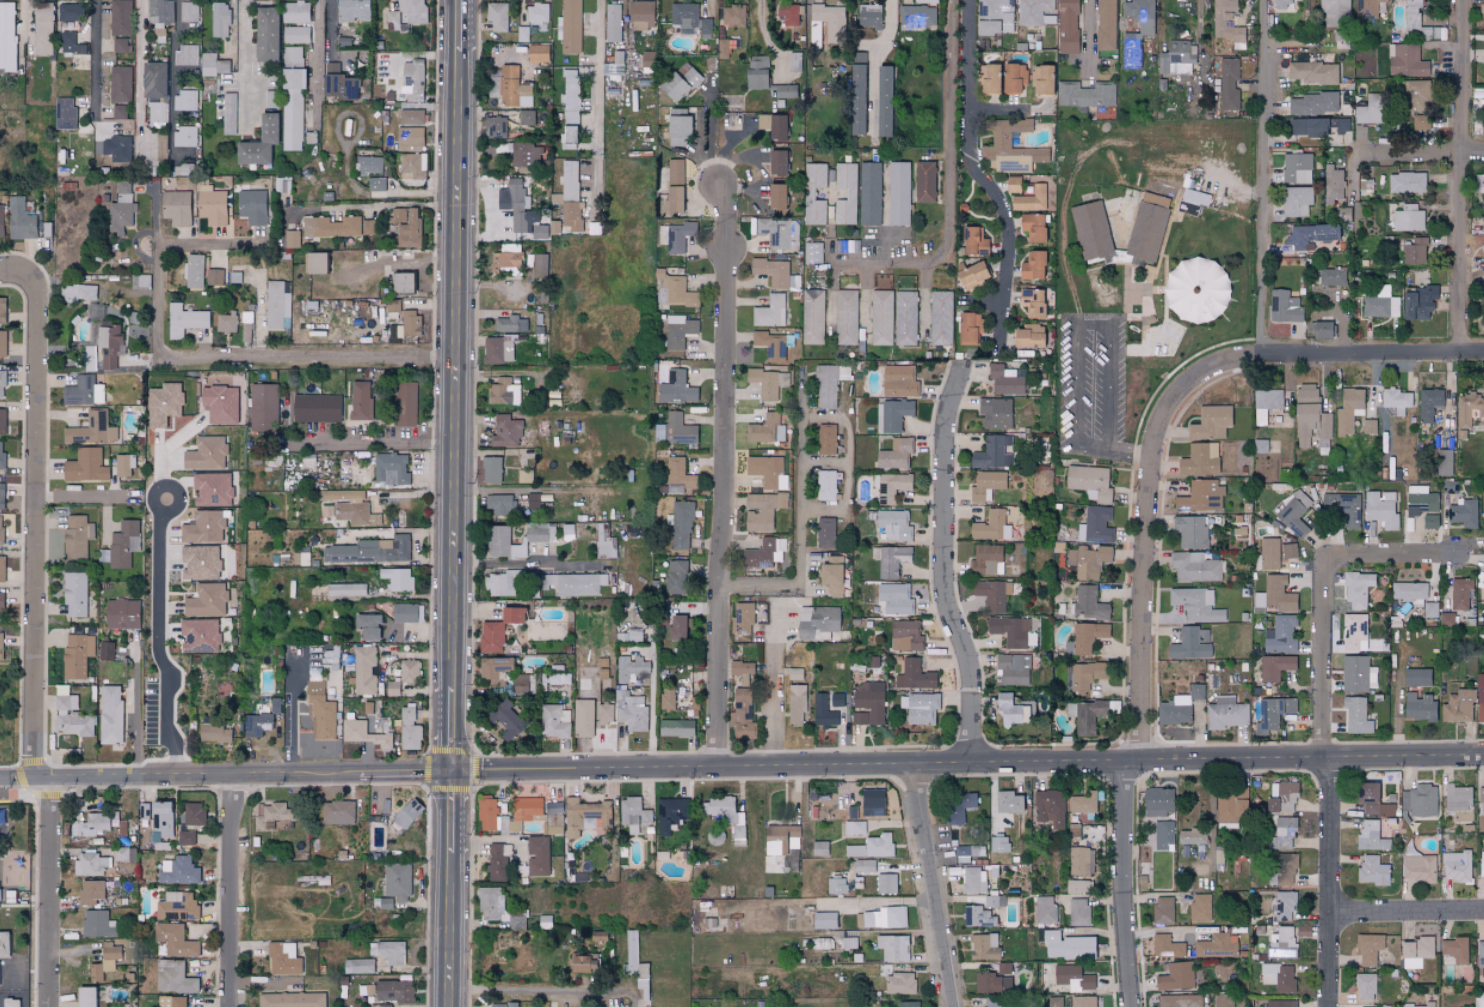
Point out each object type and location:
building: (828, 3)
building: (1279, 4)
building: (1369, 9)
building: (1481, 9)
building: (352, 10)
building: (160, 11)
building: (1033, 11)
building: (1334, 11)
building: (68, 12)
building: (189, 12)
building: (294, 12)
building: (42, 13)
building: (537, 13)
building: (918, 13)
building: (789, 14)
building: (407, 15)
building: (641, 15)
building: (496, 16)
building: (733, 16)
building: (869, 16)
building: (1411, 16)
building: (120, 17)
building: (995, 17)
building: (690, 18)
building: (219, 20)
building: (831, 22)
building: (612, 23)
building: (1219, 23)
building: (1105, 25)
road: (463, 26)
building: (570, 26)
building: (1067, 27)
road: (329, 28)
road: (764, 31)
building: (1430, 33)
building: (264, 35)
building: (295, 35)
building: (7, 36)
building: (1137, 36)
road: (1088, 38)
building: (71, 44)
building: (120, 45)
building: (726, 45)
building: (537, 53)
building: (186, 55)
building: (1176, 55)
building: (292, 57)
road: (873, 59)
building: (1406, 61)
road: (97, 62)
building: (795, 62)
road: (243, 63)
road: (315, 64)
building: (213, 65)
building: (332, 67)
building: (756, 73)
building: (1313, 73)
road: (141, 76)
road: (172, 78)
building: (1013, 78)
building: (413, 79)
building: (988, 79)
building: (152, 80)
building: (1041, 80)
building: (679, 82)
building: (120, 84)
building: (1229, 84)
building: (340, 87)
building: (509, 87)
road: (594, 93)
building: (856, 94)
building: (1085, 95)
building: (571, 96)
building: (1414, 96)
building: (186, 100)
building: (882, 101)
building: (1314, 104)
building: (291, 108)
road: (998, 109)
building: (1369, 110)
building: (119, 112)
building: (157, 113)
building: (64, 114)
building: (228, 114)
building: (411, 117)
building: (526, 117)
building: (1420, 123)
building: (677, 126)
building: (765, 126)
building: (495, 127)
building: (1317, 127)
building: (185, 136)
building: (568, 137)
building: (409, 139)
building: (1000, 139)
road: (711, 141)
building: (258, 143)
road: (1015, 147)
building: (116, 148)
road: (1421, 153)
building: (523, 154)
building: (776, 163)
building: (369, 165)
building: (412, 166)
building: (1297, 168)
road: (1464, 174)
road: (1264, 177)
building: (569, 180)
road: (984, 180)
building: (924, 182)
building: (1406, 183)
building: (1479, 183)
building: (376, 184)
building: (1013, 184)
building: (1333, 184)
building: (674, 186)
road: (950, 189)
building: (808, 194)
building: (845, 194)
building: (869, 194)
building: (898, 194)
building: (775, 197)
building: (1030, 200)
building: (1296, 201)
building: (1191, 202)
building: (212, 206)
road: (375, 206)
building: (252, 207)
building: (176, 208)
building: (520, 210)
building: (118, 211)
road: (155, 212)
building: (572, 216)
building: (1408, 218)
building: (21, 220)
building: (2, 221)
building: (330, 227)
building: (369, 227)
building: (554, 227)
building: (1032, 227)
building: (1147, 227)
building: (407, 228)
building: (775, 231)
building: (1090, 231)
building: (679, 236)
building: (1309, 236)
building: (291, 239)
building: (973, 242)
road: (208, 245)
building: (848, 246)
building: (1413, 250)
building: (1483, 252)
building: (813, 253)
building: (507, 256)
building: (314, 263)
road: (408, 265)
building: (539, 266)
building: (1032, 266)
building: (194, 271)
building: (772, 272)
road: (13, 275)
building: (973, 275)
building: (1333, 276)
building: (215, 277)
building: (144, 281)
building: (401, 283)
building: (676, 290)
building: (1195, 291)
building: (78, 292)
building: (1417, 302)
building: (1032, 303)
building: (1381, 303)
building: (277, 306)
building: (392, 306)
building: (1284, 307)
building: (94, 309)
building: (2, 310)
building: (770, 311)
building: (812, 317)
building: (845, 317)
building: (881, 317)
building: (905, 318)
building: (941, 318)
building: (185, 321)
building: (226, 322)
building: (410, 323)
building: (506, 323)
road: (1075, 326)
building: (969, 328)
building: (1321, 330)
building: (679, 331)
building: (1028, 336)
building: (3, 343)
building: (771, 344)
building: (109, 345)
building: (499, 349)
road: (1143, 349)
road: (1373, 352)
building: (90, 358)
road: (254, 363)
road: (459, 370)
building: (1005, 380)
building: (899, 381)
building: (768, 382)
building: (2, 383)
building: (829, 384)
building: (676, 388)
building: (84, 391)
building: (503, 391)
building: (1306, 392)
building: (1397, 397)
building: (1267, 398)
building: (360, 400)
building: (163, 403)
building: (220, 403)
building: (406, 403)
building: (1429, 403)
building: (264, 407)
building: (316, 408)
building: (1469, 408)
building: (1348, 409)
building: (995, 412)
building: (892, 414)
building: (2, 421)
building: (1210, 422)
building: (1305, 422)
building: (1324, 425)
building: (1369, 426)
building: (92, 429)
building: (678, 429)
building: (766, 429)
building: (506, 431)
road: (375, 438)
building: (826, 439)
building: (1260, 445)
building: (991, 451)
building: (1, 453)
building: (206, 453)
road: (1131, 453)
building: (895, 454)
building: (1199, 459)
road: (848, 460)
building: (1444, 462)
road: (824, 463)
building: (123, 464)
building: (85, 465)
building: (390, 468)
building: (492, 469)
building: (767, 471)
building: (677, 472)
building: (524, 477)
road: (726, 477)
building: (1089, 481)
building: (825, 485)
building: (987, 485)
building: (890, 486)
building: (1450, 487)
building: (212, 488)
road: (541, 491)
building: (1, 495)
building: (1201, 495)
road: (87, 497)
building: (533, 499)
building: (1420, 500)
building: (500, 504)
building: (1343, 507)
building: (1381, 508)
building: (761, 510)
building: (1294, 512)
building: (1463, 512)
building: (355, 513)
road: (801, 521)
building: (1430, 521)
road: (1149, 523)
building: (894, 524)
building: (681, 525)
building: (1095, 525)
building: (991, 526)
road: (31, 527)
building: (203, 527)
building: (1, 528)
building: (1191, 530)
building: (825, 532)
building: (535, 534)
building: (77, 535)
building: (605, 542)
building: (124, 543)
building: (369, 550)
building: (1289, 550)
building: (764, 553)
building: (1269, 553)
road: (1392, 557)
building: (986, 559)
building: (890, 560)
building: (1088, 560)
building: (200, 562)
road: (527, 564)
road: (947, 567)
building: (1194, 567)
building: (2, 568)
building: (675, 576)
building: (831, 576)
building: (397, 579)
building: (500, 583)
building: (574, 583)
building: (1483, 583)
building: (1357, 588)
building: (345, 589)
building: (1338, 589)
building: (1408, 591)
building: (992, 593)
building: (75, 594)
building: (1275, 594)
building: (1460, 594)
building: (893, 599)
building: (206, 600)
building: (1088, 603)
building: (1196, 604)
building: (0, 605)
building: (1430, 609)
building: (407, 612)
building: (122, 613)
building: (744, 617)
building: (816, 620)
building: (367, 625)
building: (675, 628)
road: (422, 629)
building: (498, 629)
building: (1355, 632)
building: (200, 634)
building: (1280, 634)
building: (905, 635)
building: (629, 636)
building: (1087, 636)
road: (157, 639)
building: (1190, 643)
building: (0, 645)
building: (106, 650)
building: (331, 652)
building: (77, 654)
road: (1322, 658)
building: (329, 661)
building: (1275, 667)
building: (741, 668)
building: (1014, 668)
building: (364, 670)
building: (493, 670)
building: (633, 670)
building: (409, 671)
building: (1356, 673)
building: (559, 675)
building: (914, 675)
building: (1085, 676)
building: (1417, 677)
road: (774, 683)
building: (521, 684)
building: (392, 688)
building: (667, 697)
building: (1480, 698)
building: (836, 700)
building: (796, 703)
building: (868, 703)
building: (1458, 706)
building: (1418, 707)
building: (920, 708)
building: (1011, 710)
building: (1175, 710)
building: (632, 711)
building: (822, 711)
building: (1226, 713)
building: (1272, 713)
building: (110, 714)
road: (295, 714)
building: (605, 714)
building: (742, 714)
building: (1356, 715)
building: (1085, 716)
building: (71, 717)
building: (583, 718)
building: (506, 720)
building: (554, 721)
building: (256, 724)
building: (676, 727)
building: (409, 730)
road: (455, 730)
building: (213, 733)
building: (365, 734)
road: (1402, 753)
road: (1232, 754)
road: (1134, 755)
road: (789, 762)
road: (255, 775)
road: (15, 778)
road: (43, 778)
building: (1480, 793)
building: (1367, 796)
building: (1281, 797)
building: (1457, 797)
building: (1419, 800)
building: (1158, 801)
building: (1008, 802)
building: (1084, 803)
building: (1230, 803)
building: (959, 806)
building: (526, 808)
building: (1050, 808)
building: (1480, 809)
building: (337, 812)
building: (193, 813)
building: (406, 813)
road: (454, 813)
building: (671, 813)
building: (724, 813)
building: (270, 814)
building: (491, 815)
building: (634, 815)
building: (585, 816)
building: (157, 818)
building: (2, 821)
building: (553, 821)
building: (91, 825)
building: (854, 827)
building: (1283, 833)
building: (1370, 835)
building: (1164, 836)
building: (1191, 836)
building: (186, 838)
building: (781, 839)
building: (999, 844)
building: (872, 846)
building: (820, 848)
building: (962, 854)
building: (537, 856)
building: (498, 861)
building: (1082, 861)
building: (91, 864)
building: (1482, 864)
building: (864, 866)
building: (1456, 866)
building: (1419, 868)
building: (1284, 869)
building: (178, 870)
building: (1371, 870)
road: (1329, 879)
building: (973, 880)
building: (397, 881)
road: (1125, 881)
building: (886, 883)
road: (929, 883)
building: (836, 886)
building: (1073, 886)
building: (91, 891)
road: (232, 891)
road: (54, 892)
building: (991, 901)
building: (490, 904)
building: (1282, 905)
building: (177, 907)
building: (1200, 907)
building: (1044, 910)
building: (1163, 910)
road: (1407, 911)
building: (1078, 912)
building: (977, 916)
building: (880, 917)
building: (516, 920)
building: (824, 920)
building: (544, 921)
building: (98, 924)
road: (451, 930)
road: (1172, 930)
building: (175, 940)
building: (821, 943)
building: (1281, 943)
building: (5, 944)
building: (983, 946)
building: (1067, 946)
building: (1166, 946)
building: (1216, 946)
building: (892, 947)
building: (1368, 948)
building: (1455, 949)
building: (388, 952)
building: (1415, 952)
building: (1480, 953)
building: (633, 955)
building: (282, 958)
building: (105, 960)
building: (583, 963)
building: (357, 966)
building: (0, 974)
building: (1176, 976)
building: (174, 977)
building: (1072, 977)
building: (1278, 977)
building: (994, 980)
building: (899, 983)
building: (1365, 987)
building: (393, 991)
building: (84, 996)
road: (539, 998)
building: (1479, 999)
building: (291, 1000)
building: (1179, 1000)
building: (1223, 1000)
building: (171, 1001)
building: (1055, 1001)
building: (1083, 1001)
building: (11, 1002)
building: (992, 1002)
building: (1280, 1003)
building: (907, 1004)
building: (379, 1005)
building: (497, 1005)
building: (1420, 1005)

